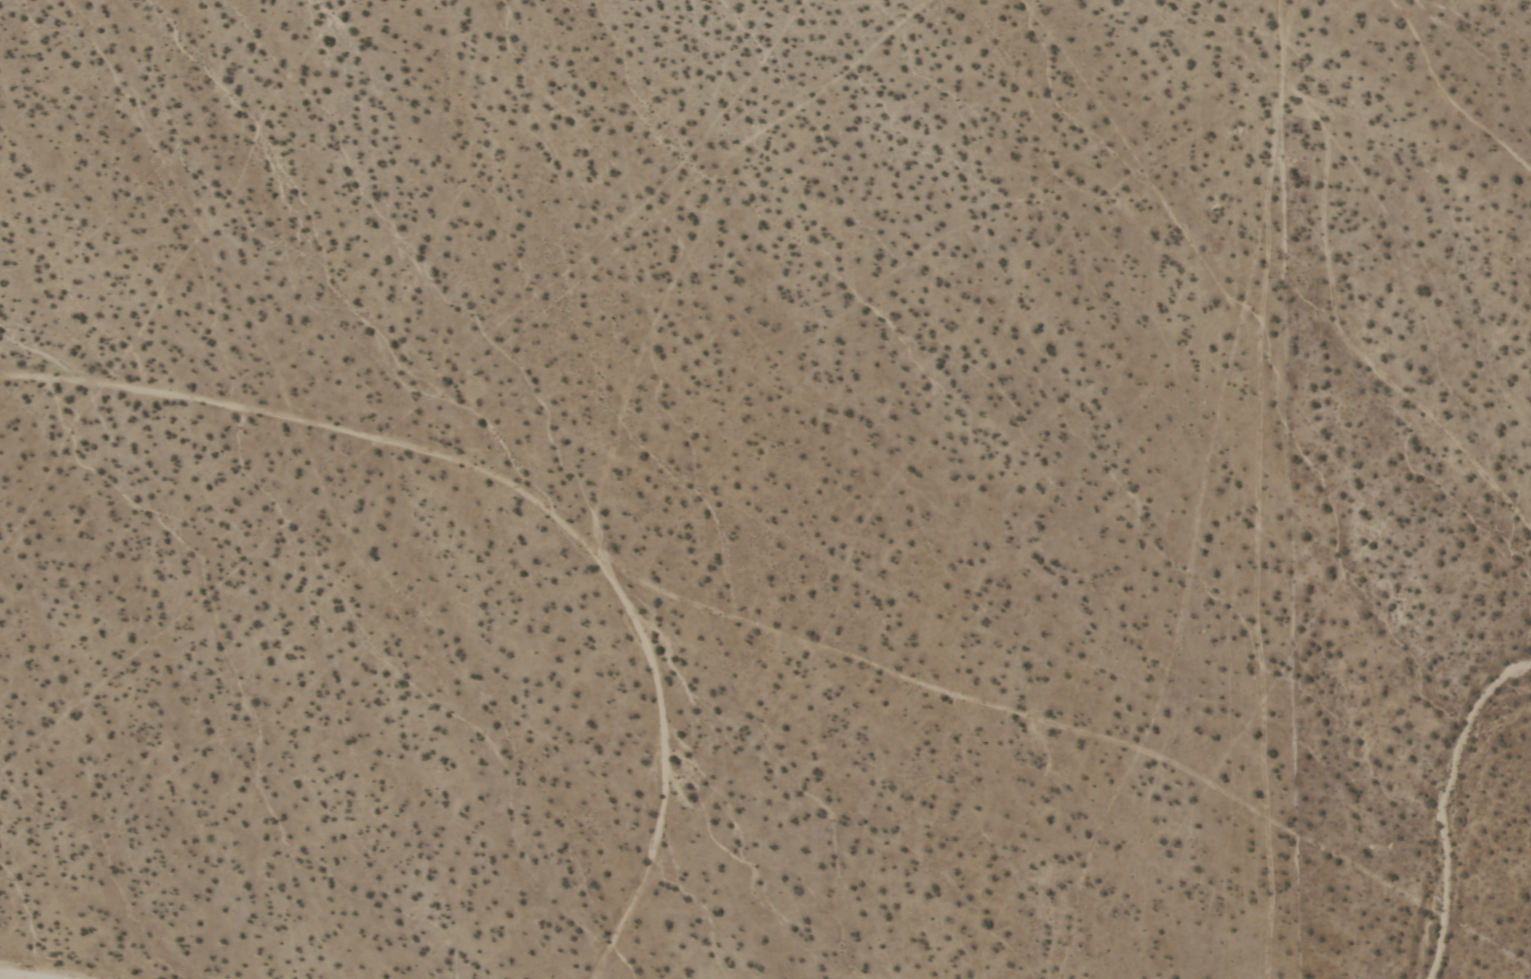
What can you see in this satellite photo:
crop: (765, 489)
road: (525, 499)
park: (1366, 900)

